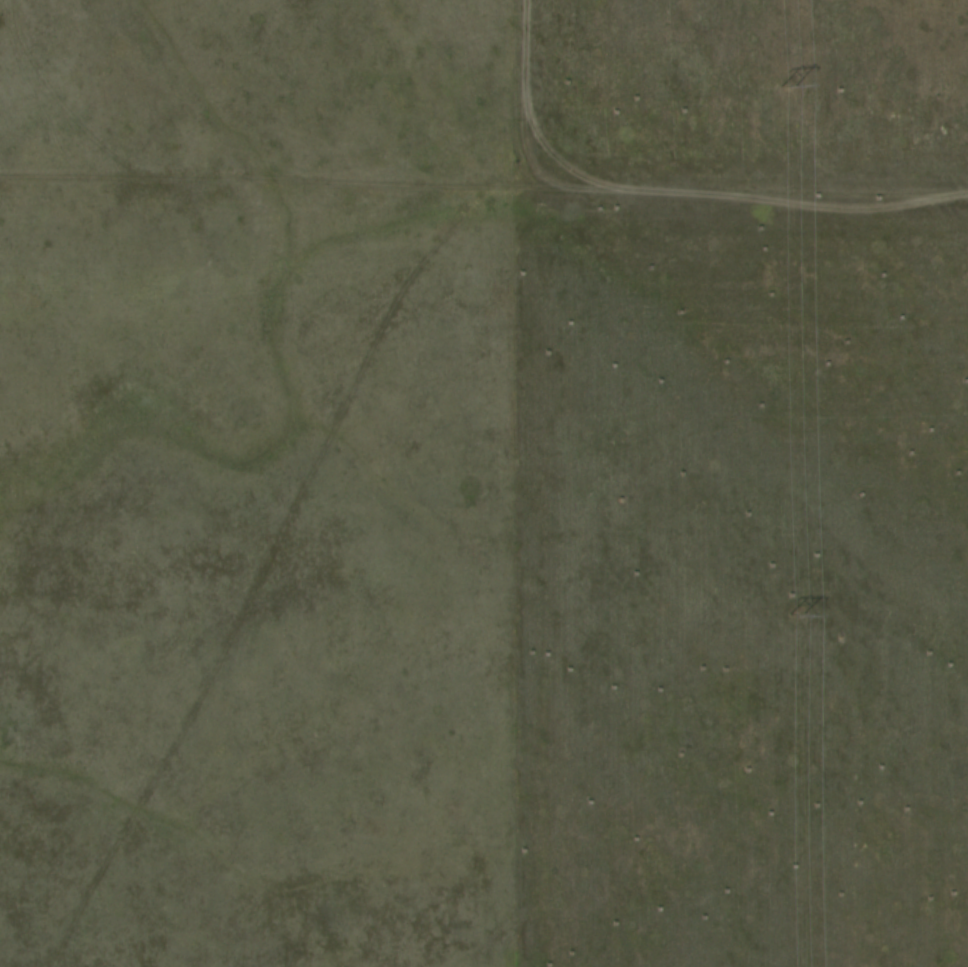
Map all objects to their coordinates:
power tower: (781, 86)
power tower: (786, 616)

